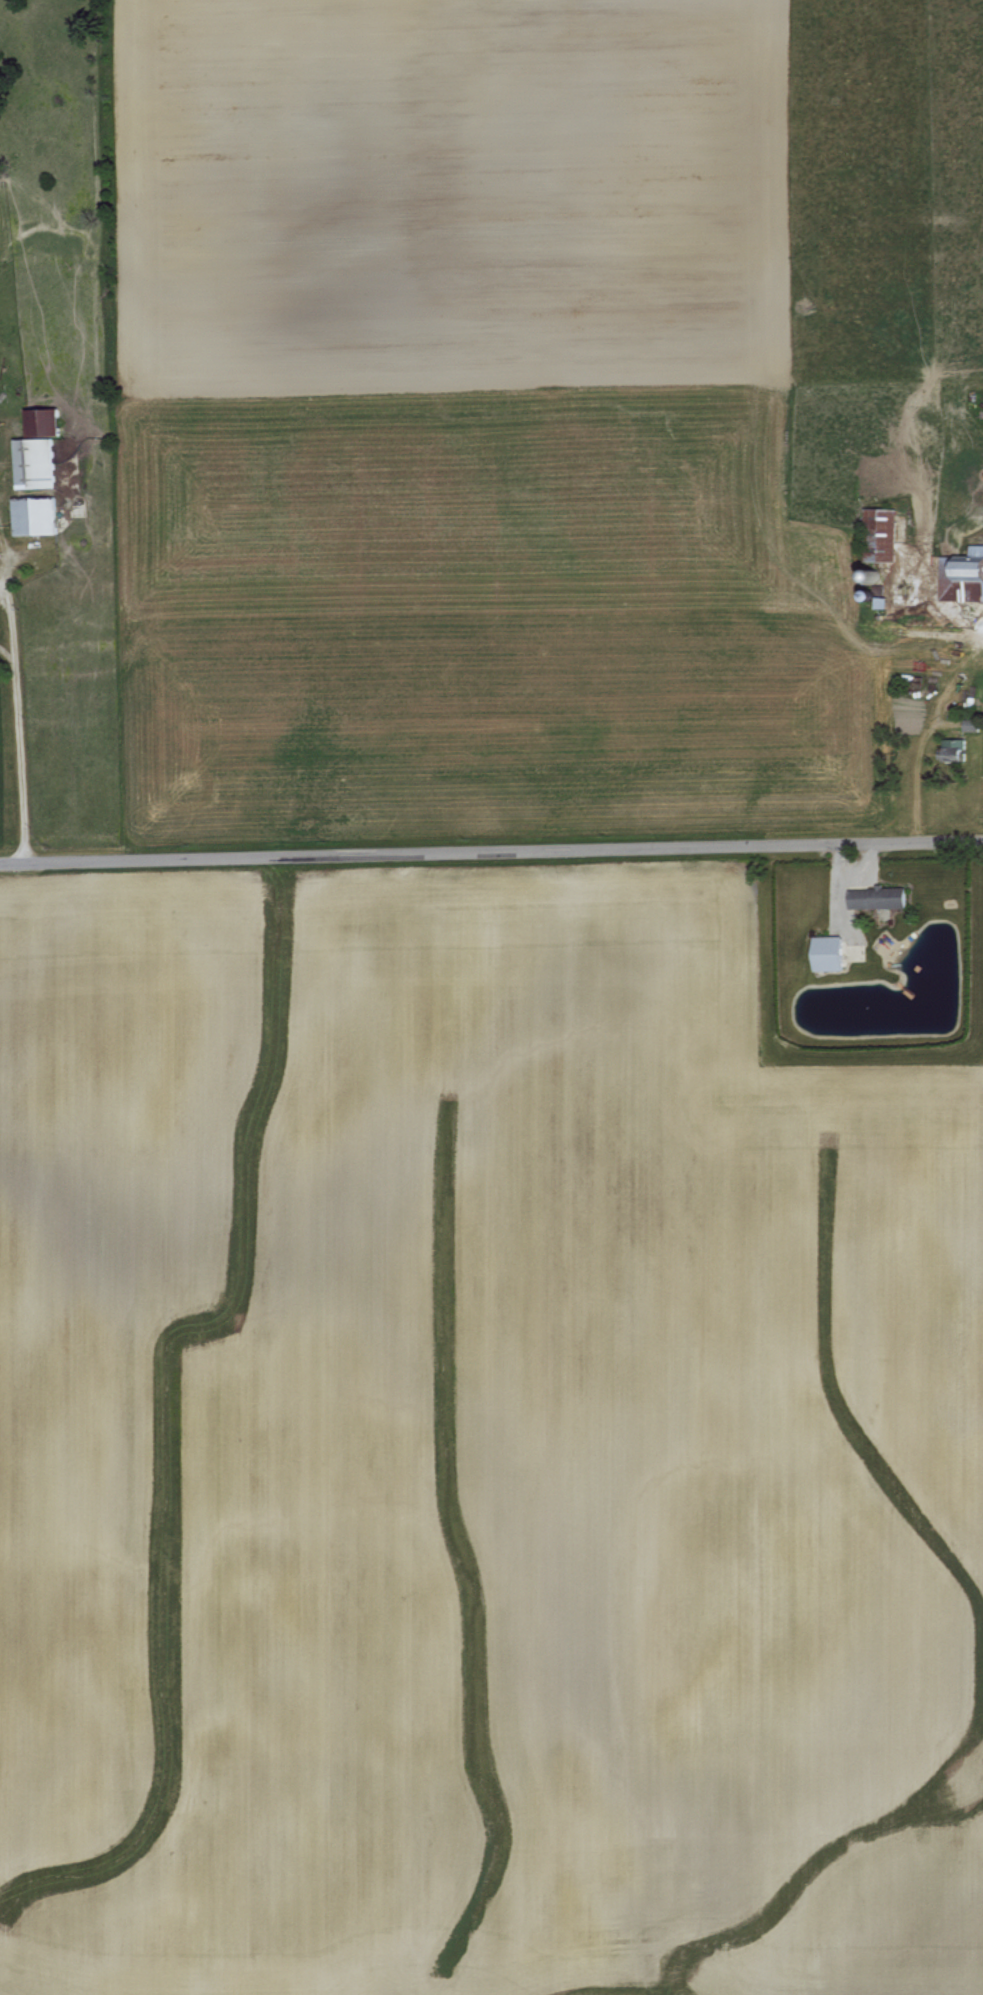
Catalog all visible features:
building: (34, 449)
building: (31, 514)
building: (961, 574)
building: (950, 746)
road: (14, 748)
road: (491, 850)
building: (874, 895)
building: (824, 951)

